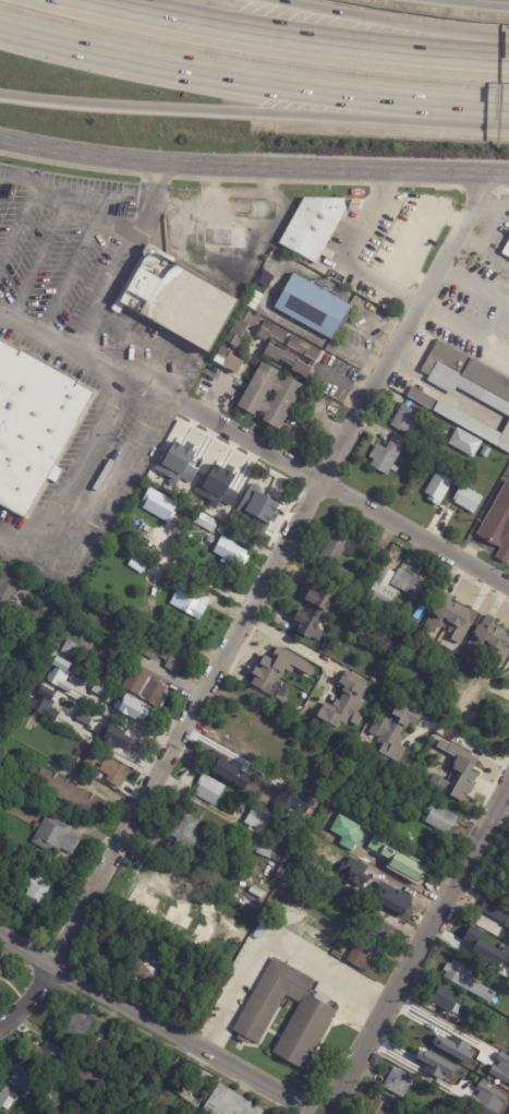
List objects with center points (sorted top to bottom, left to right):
road: (504, 0)
road: (388, 23)
road: (298, 38)
road: (252, 81)
road: (254, 113)
road: (68, 165)
road: (253, 168)
road: (155, 177)
road: (184, 178)
road: (210, 179)
road: (239, 180)
road: (268, 181)
road: (324, 183)
road: (383, 184)
road: (432, 185)
road: (476, 190)
road: (500, 191)
road: (65, 199)
road: (19, 223)
building: (313, 226)
road: (486, 233)
building: (400, 243)
building: (226, 244)
parking lot: (60, 247)
building: (506, 250)
road: (352, 251)
road: (494, 255)
road: (37, 262)
road: (121, 262)
road: (68, 278)
road: (476, 279)
building: (253, 298)
building: (180, 299)
building: (312, 308)
road: (463, 328)
building: (276, 345)
road: (162, 346)
road: (60, 352)
building: (229, 363)
building: (466, 376)
road: (154, 396)
building: (420, 398)
building: (255, 399)
building: (405, 420)
building: (34, 424)
building: (473, 427)
building: (465, 445)
building: (387, 456)
road: (76, 465)
road: (116, 481)
building: (256, 486)
building: (437, 487)
road: (349, 495)
parking lot: (104, 499)
building: (466, 499)
building: (158, 505)
building: (258, 506)
road: (490, 506)
building: (209, 524)
building: (498, 526)
road: (15, 536)
road: (250, 542)
building: (340, 542)
road: (486, 547)
road: (468, 549)
building: (230, 552)
road: (51, 554)
road: (504, 556)
building: (140, 562)
road: (195, 575)
building: (409, 583)
building: (381, 588)
building: (8, 592)
building: (322, 595)
building: (190, 601)
road: (252, 604)
building: (449, 616)
building: (308, 622)
building: (16, 623)
road: (161, 623)
building: (8, 627)
building: (488, 642)
road: (296, 644)
building: (157, 649)
building: (444, 651)
building: (72, 652)
building: (114, 663)
road: (157, 672)
building: (276, 672)
building: (59, 674)
building: (147, 687)
building: (16, 690)
building: (472, 695)
building: (122, 698)
building: (45, 702)
building: (344, 704)
building: (252, 707)
building: (133, 709)
road: (132, 714)
building: (3, 716)
building: (84, 719)
building: (392, 732)
building: (239, 733)
road: (461, 734)
building: (119, 738)
road: (117, 740)
building: (83, 746)
building: (122, 756)
building: (349, 767)
building: (456, 769)
building: (112, 770)
building: (235, 774)
building: (208, 788)
building: (408, 790)
building: (68, 793)
building: (233, 794)
building: (436, 796)
road: (202, 801)
building: (392, 805)
building: (391, 814)
building: (440, 817)
building: (262, 819)
building: (191, 836)
building: (54, 837)
building: (408, 842)
building: (173, 849)
building: (269, 853)
building: (12, 855)
building: (508, 864)
building: (279, 873)
building: (416, 873)
building: (190, 879)
building: (272, 881)
building: (145, 886)
building: (37, 891)
building: (343, 893)
building: (247, 898)
building: (391, 900)
building: (490, 911)
building: (377, 923)
building: (262, 930)
road: (269, 938)
building: (346, 941)
building: (478, 948)
road: (417, 950)
building: (162, 959)
building: (135, 961)
building: (1, 971)
building: (147, 971)
building: (458, 973)
building: (131, 982)
building: (498, 984)
building: (183, 990)
road: (369, 998)
building: (447, 998)
building: (78, 1019)
road: (440, 1019)
building: (312, 1020)
road: (158, 1023)
building: (474, 1026)
road: (214, 1035)
building: (426, 1038)
building: (50, 1052)
building: (446, 1074)
building: (23, 1076)
building: (398, 1081)
building: (169, 1095)
building: (4, 1097)
building: (43, 1097)
building: (159, 1100)
building: (229, 1103)
building: (377, 1106)
building: (267, 1113)

